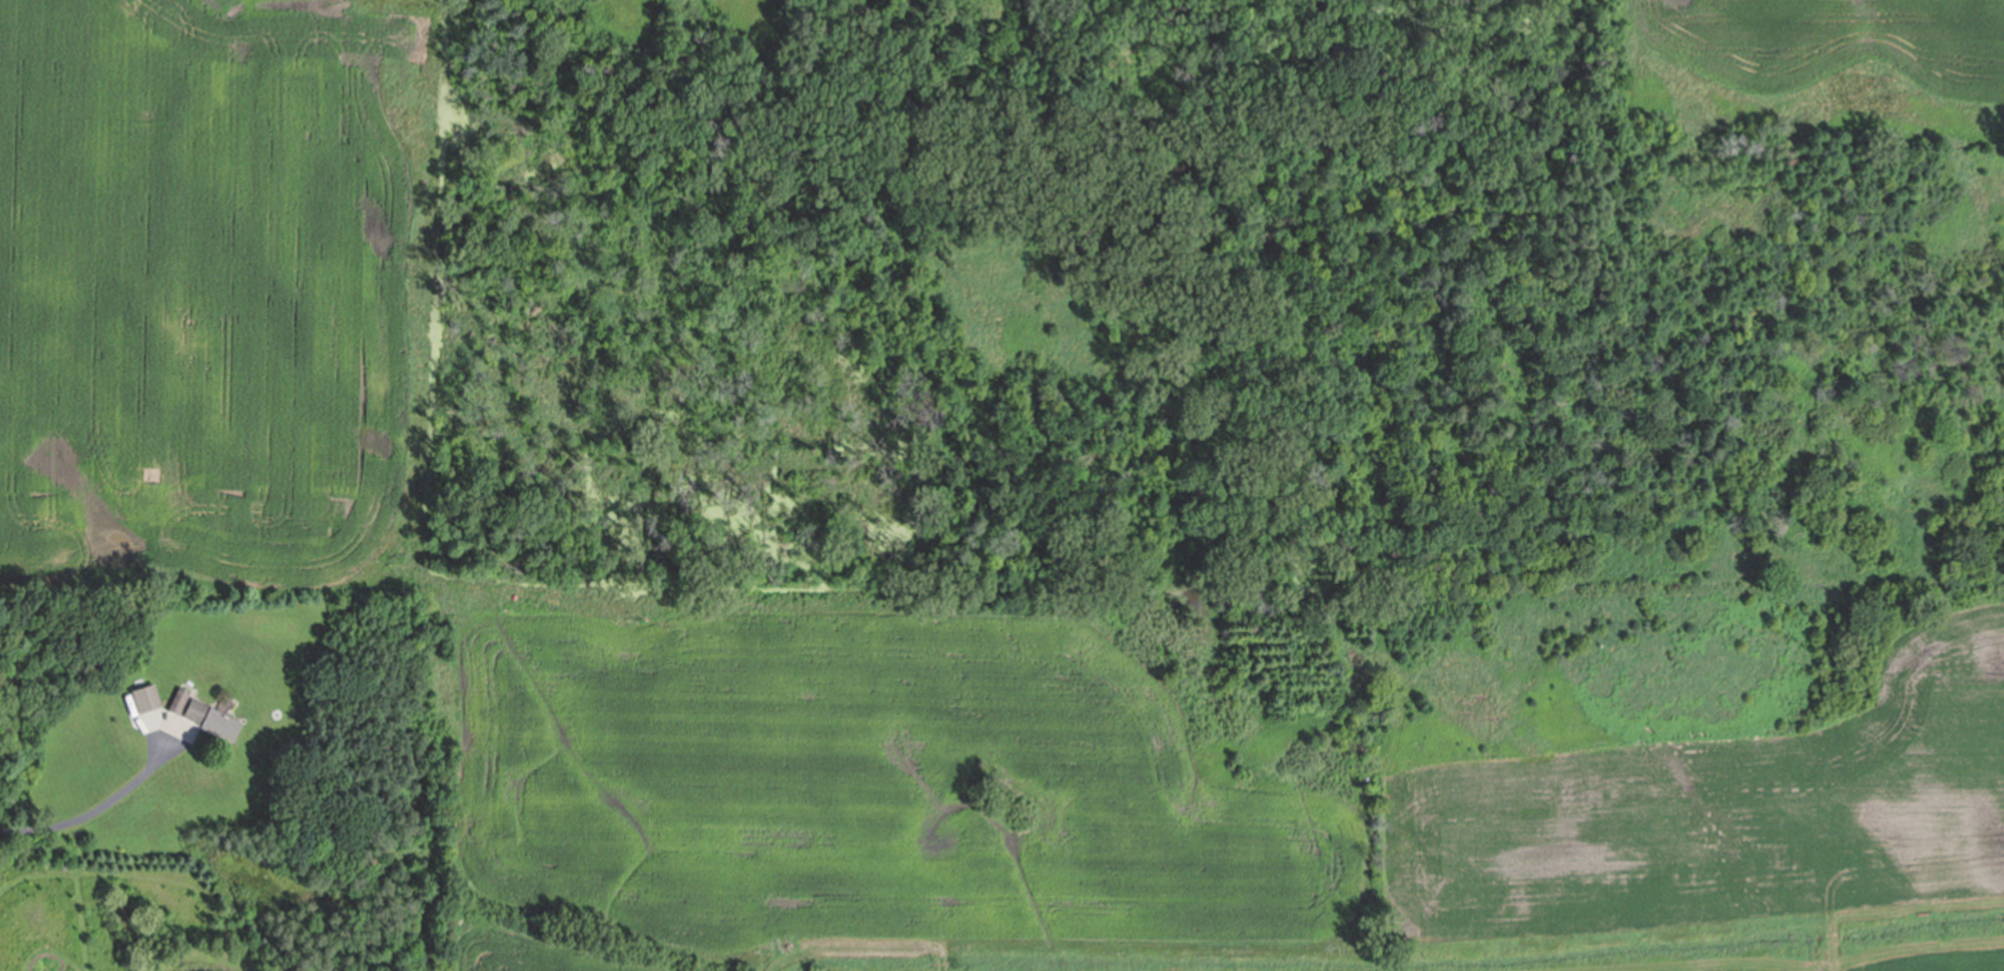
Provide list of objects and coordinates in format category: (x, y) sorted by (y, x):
building: (147, 700)
building: (180, 701)
building: (213, 721)
road: (85, 814)

